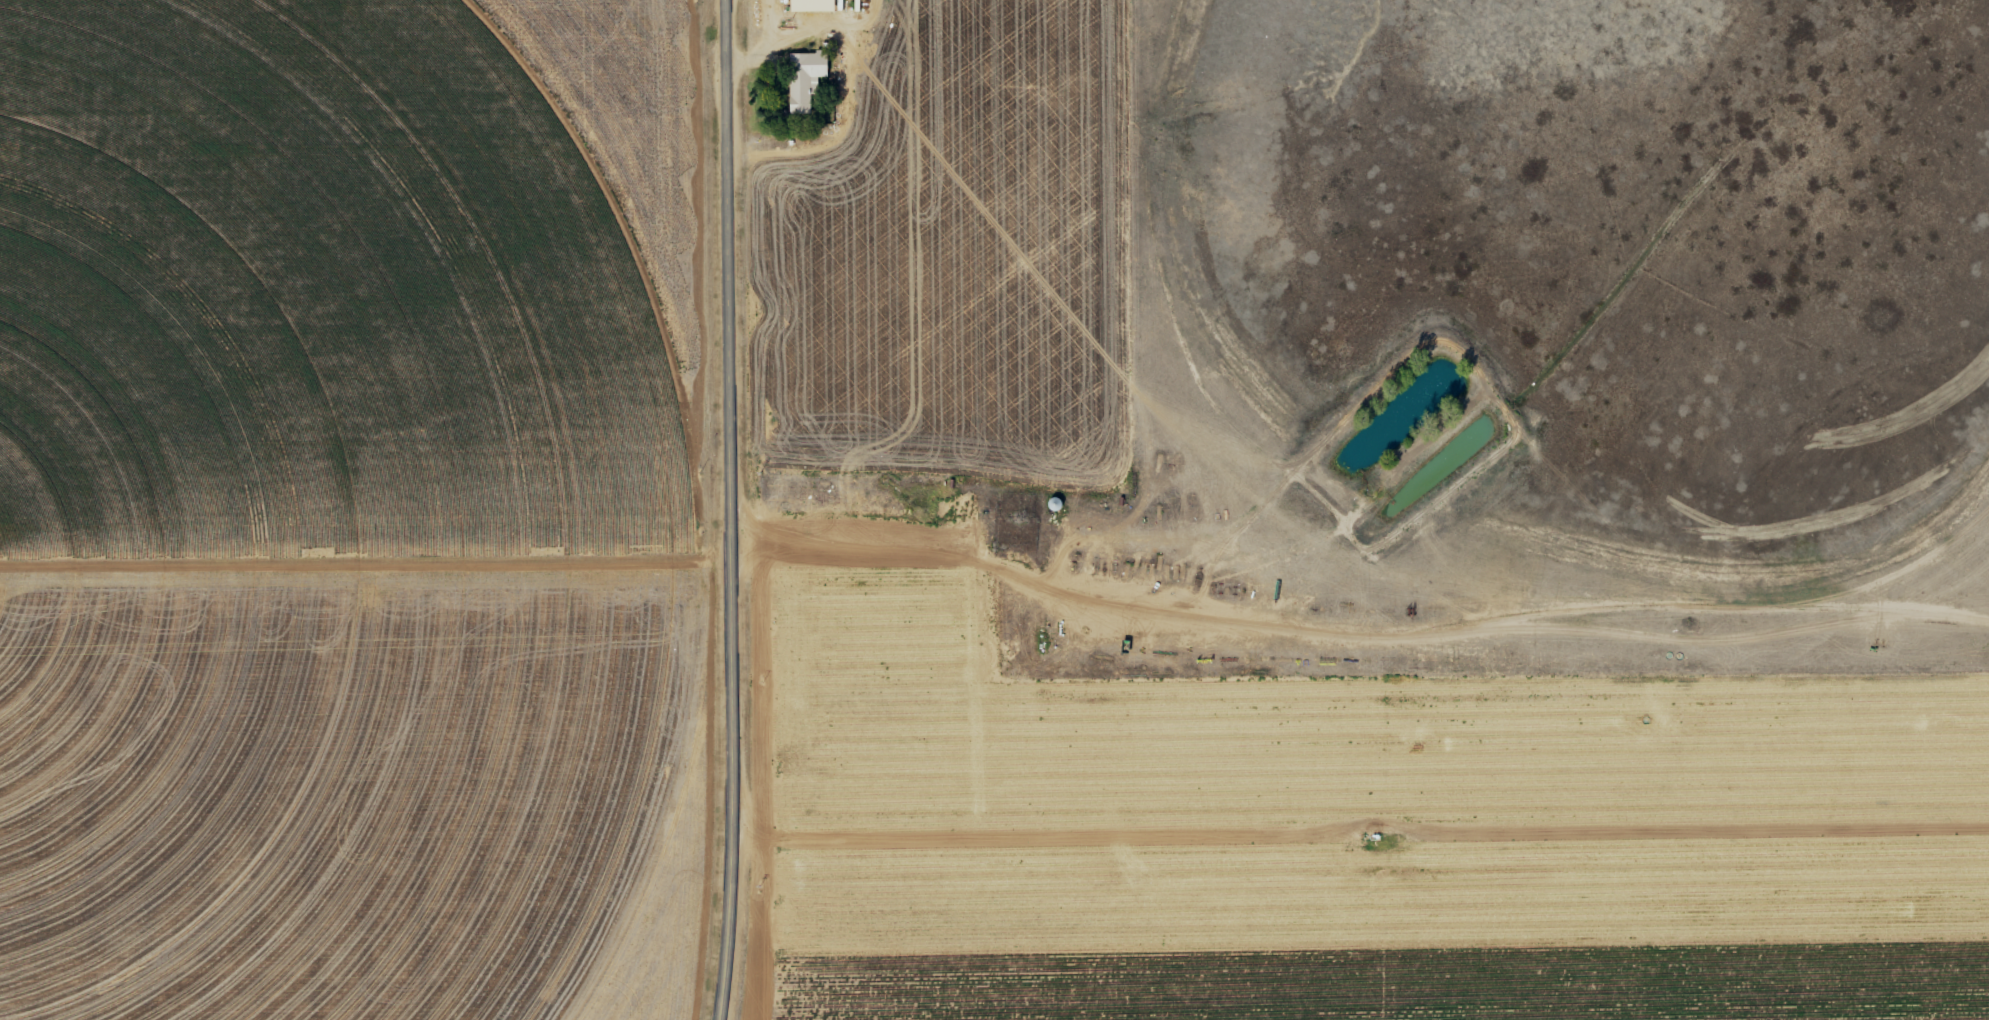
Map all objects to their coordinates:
building: (807, 6)
building: (801, 80)
building: (1050, 506)
road: (729, 510)

